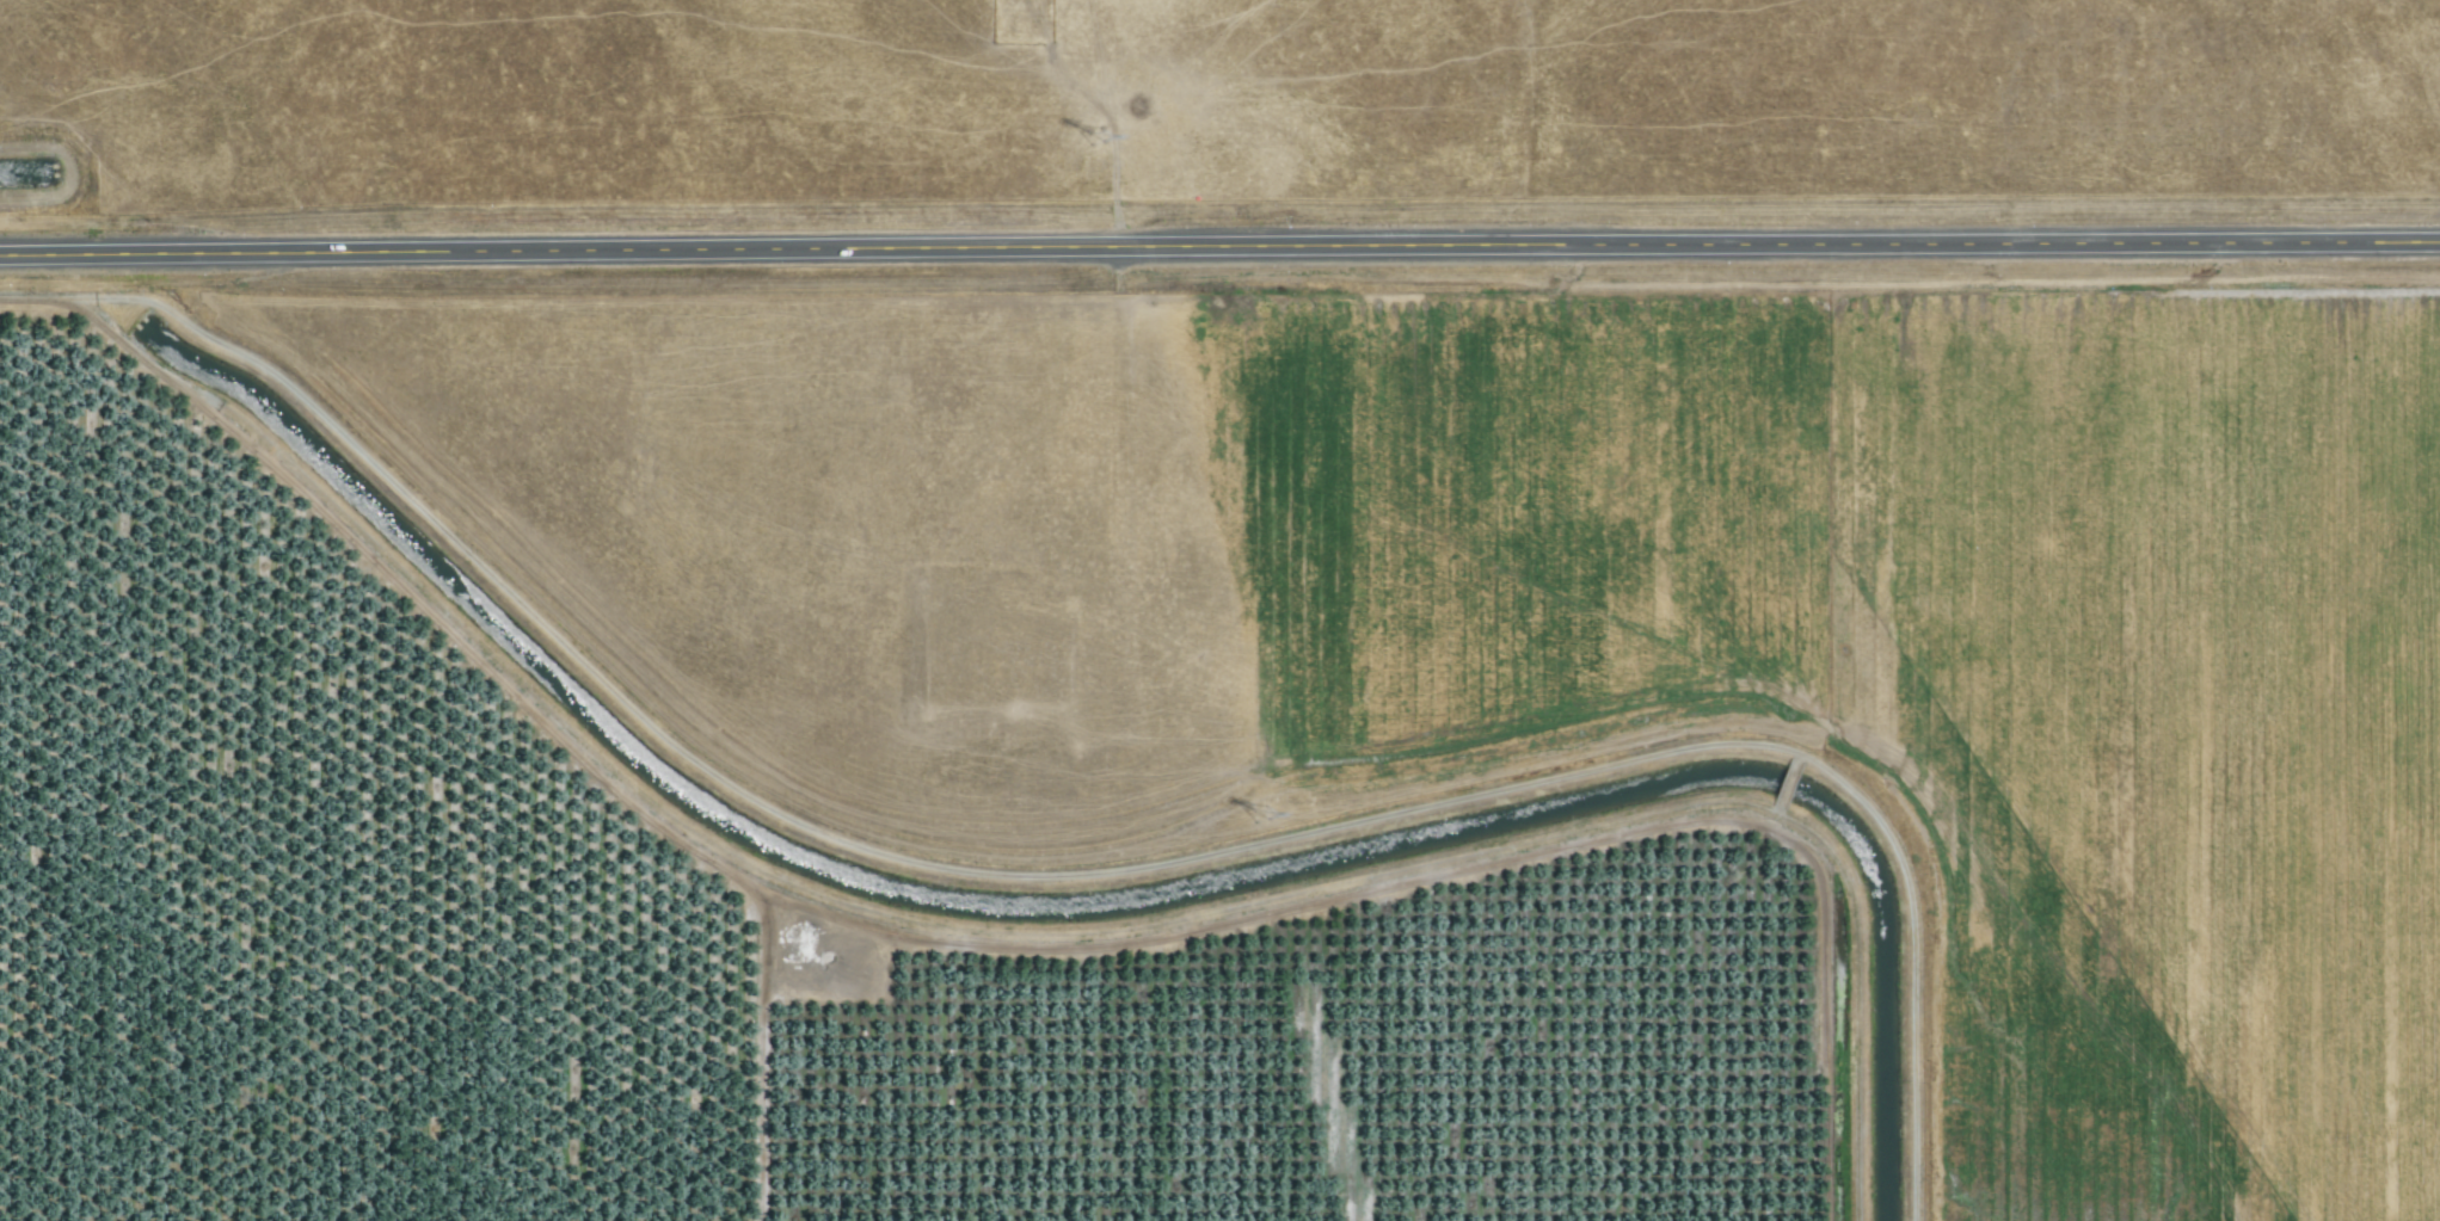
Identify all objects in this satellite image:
power tower: (1094, 137)
road: (1219, 245)
power tower: (1259, 816)

